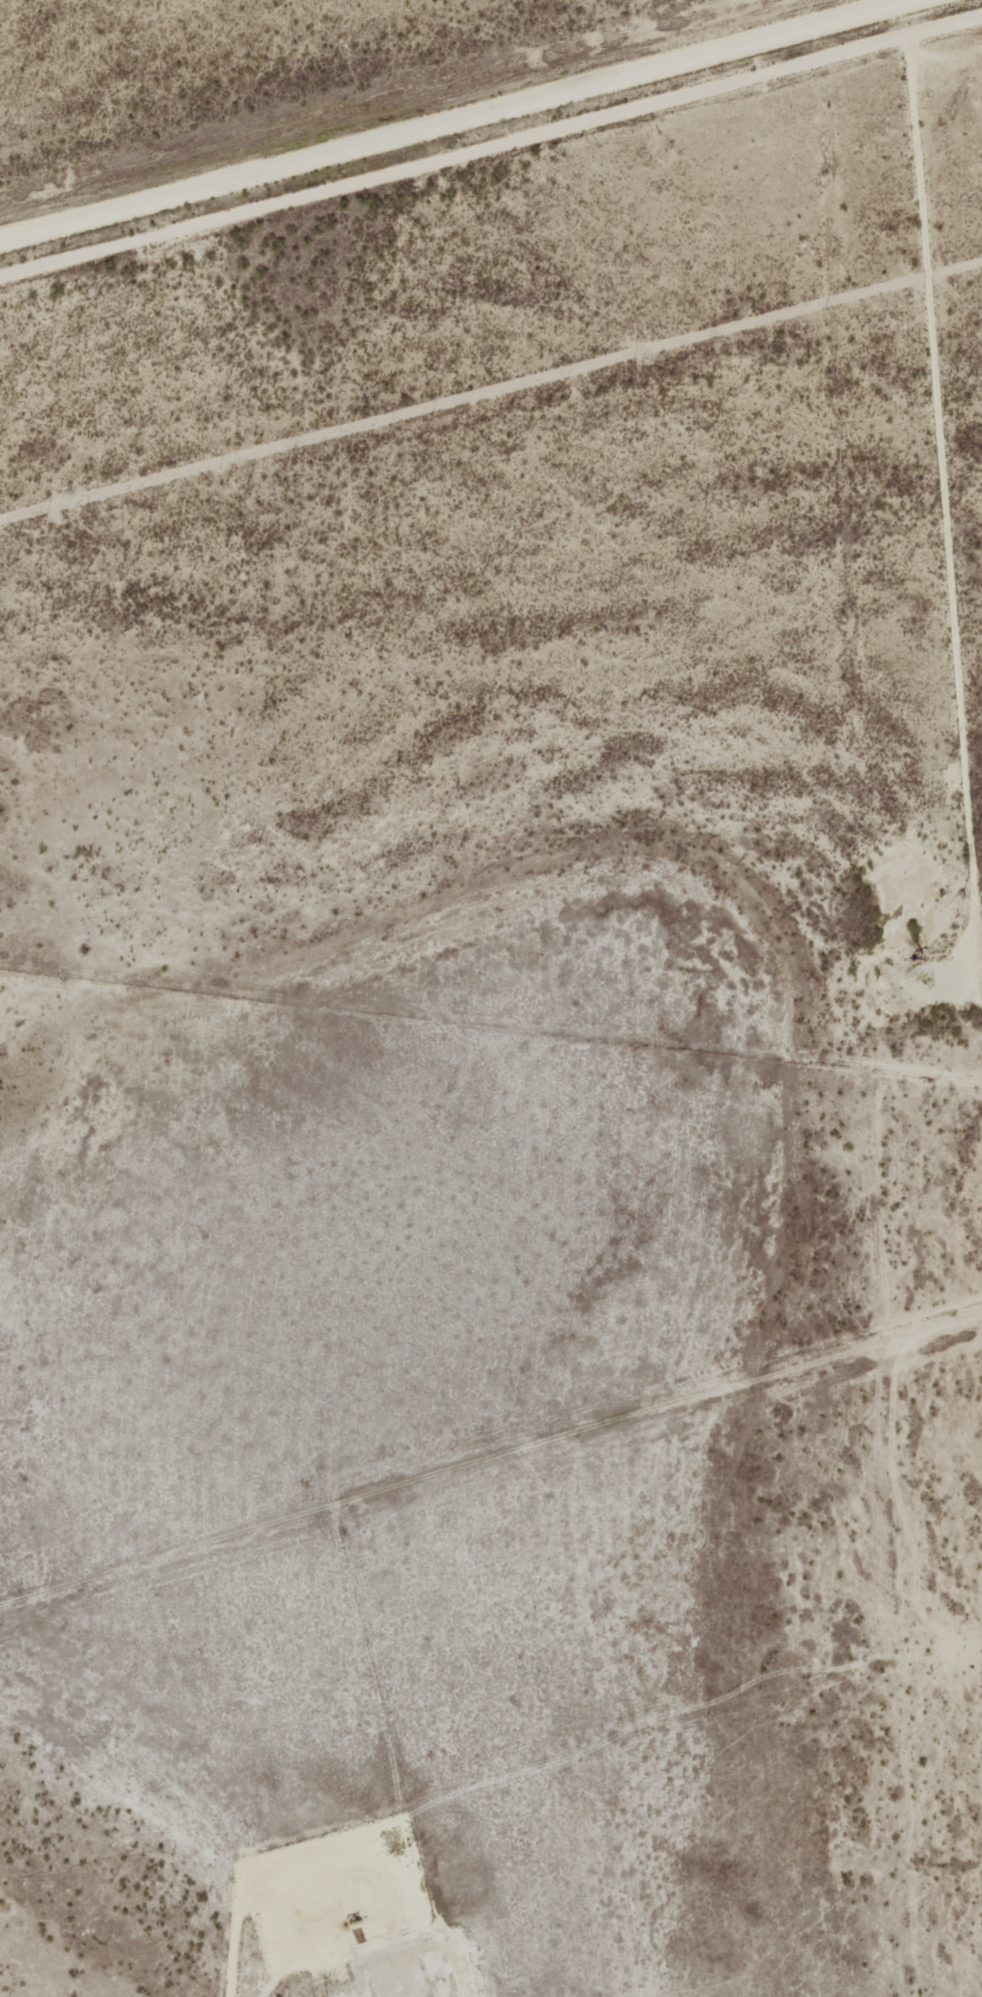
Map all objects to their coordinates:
road: (491, 138)

